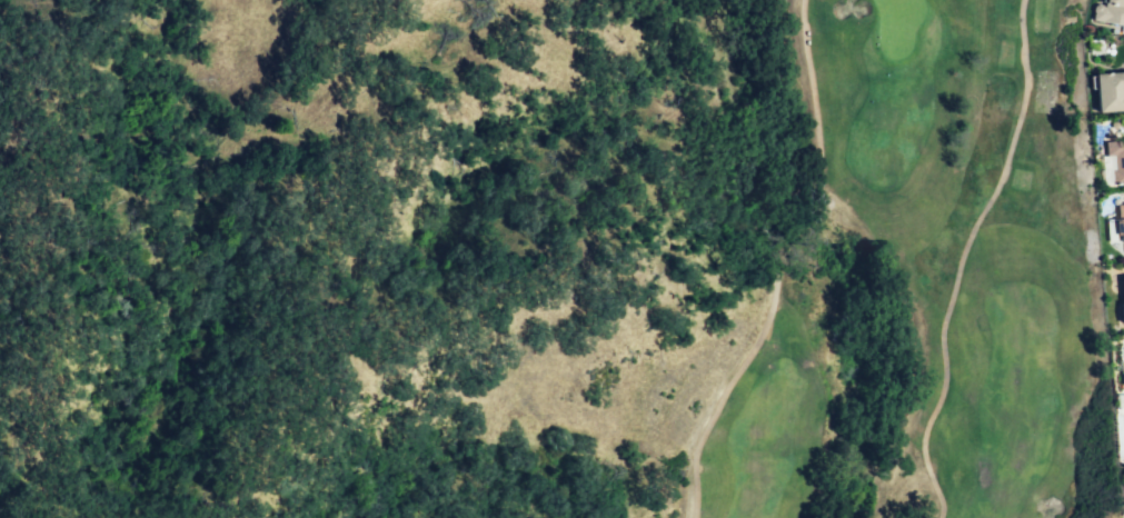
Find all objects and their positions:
building: (1111, 11)
building: (1111, 91)
building: (1121, 161)
building: (1120, 219)
road: (964, 257)
road: (842, 278)
park: (925, 285)
building: (1122, 295)

